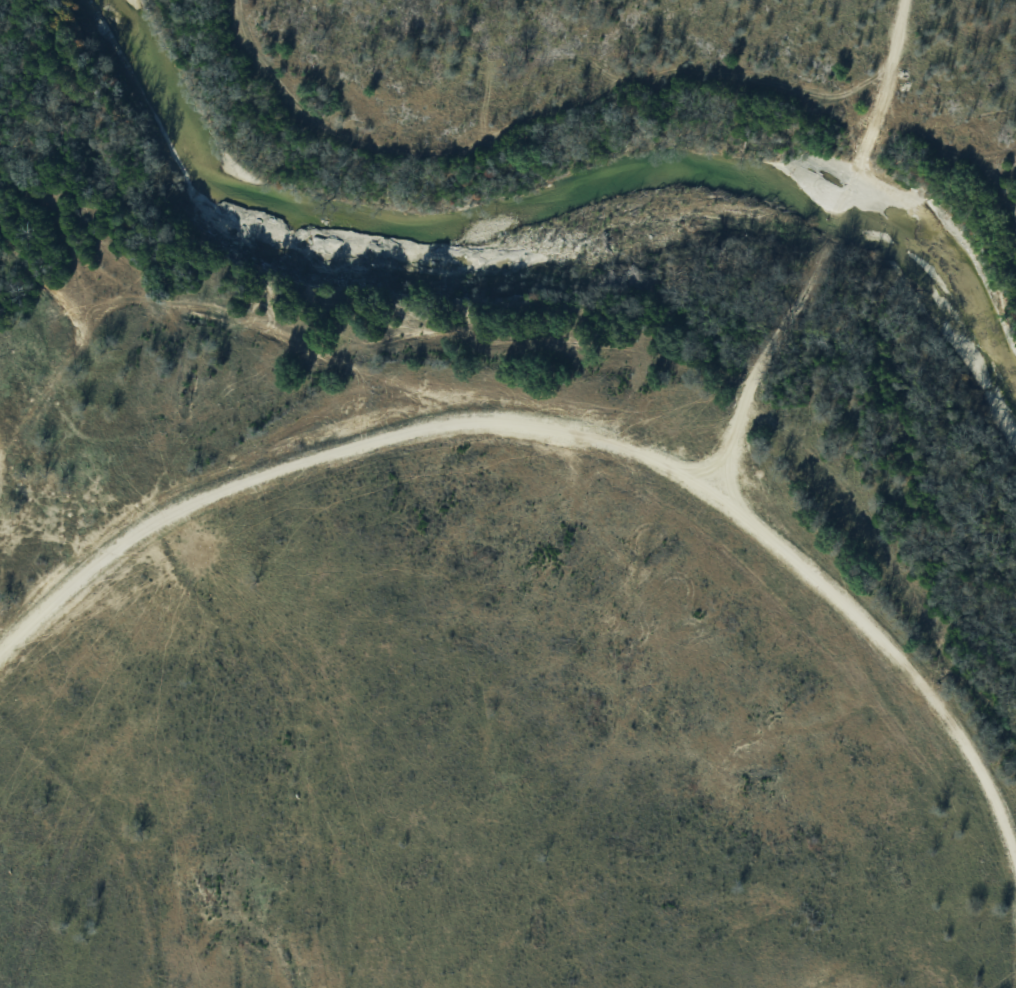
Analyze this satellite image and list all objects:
river: (556, 195)
road: (813, 244)
road: (585, 429)

